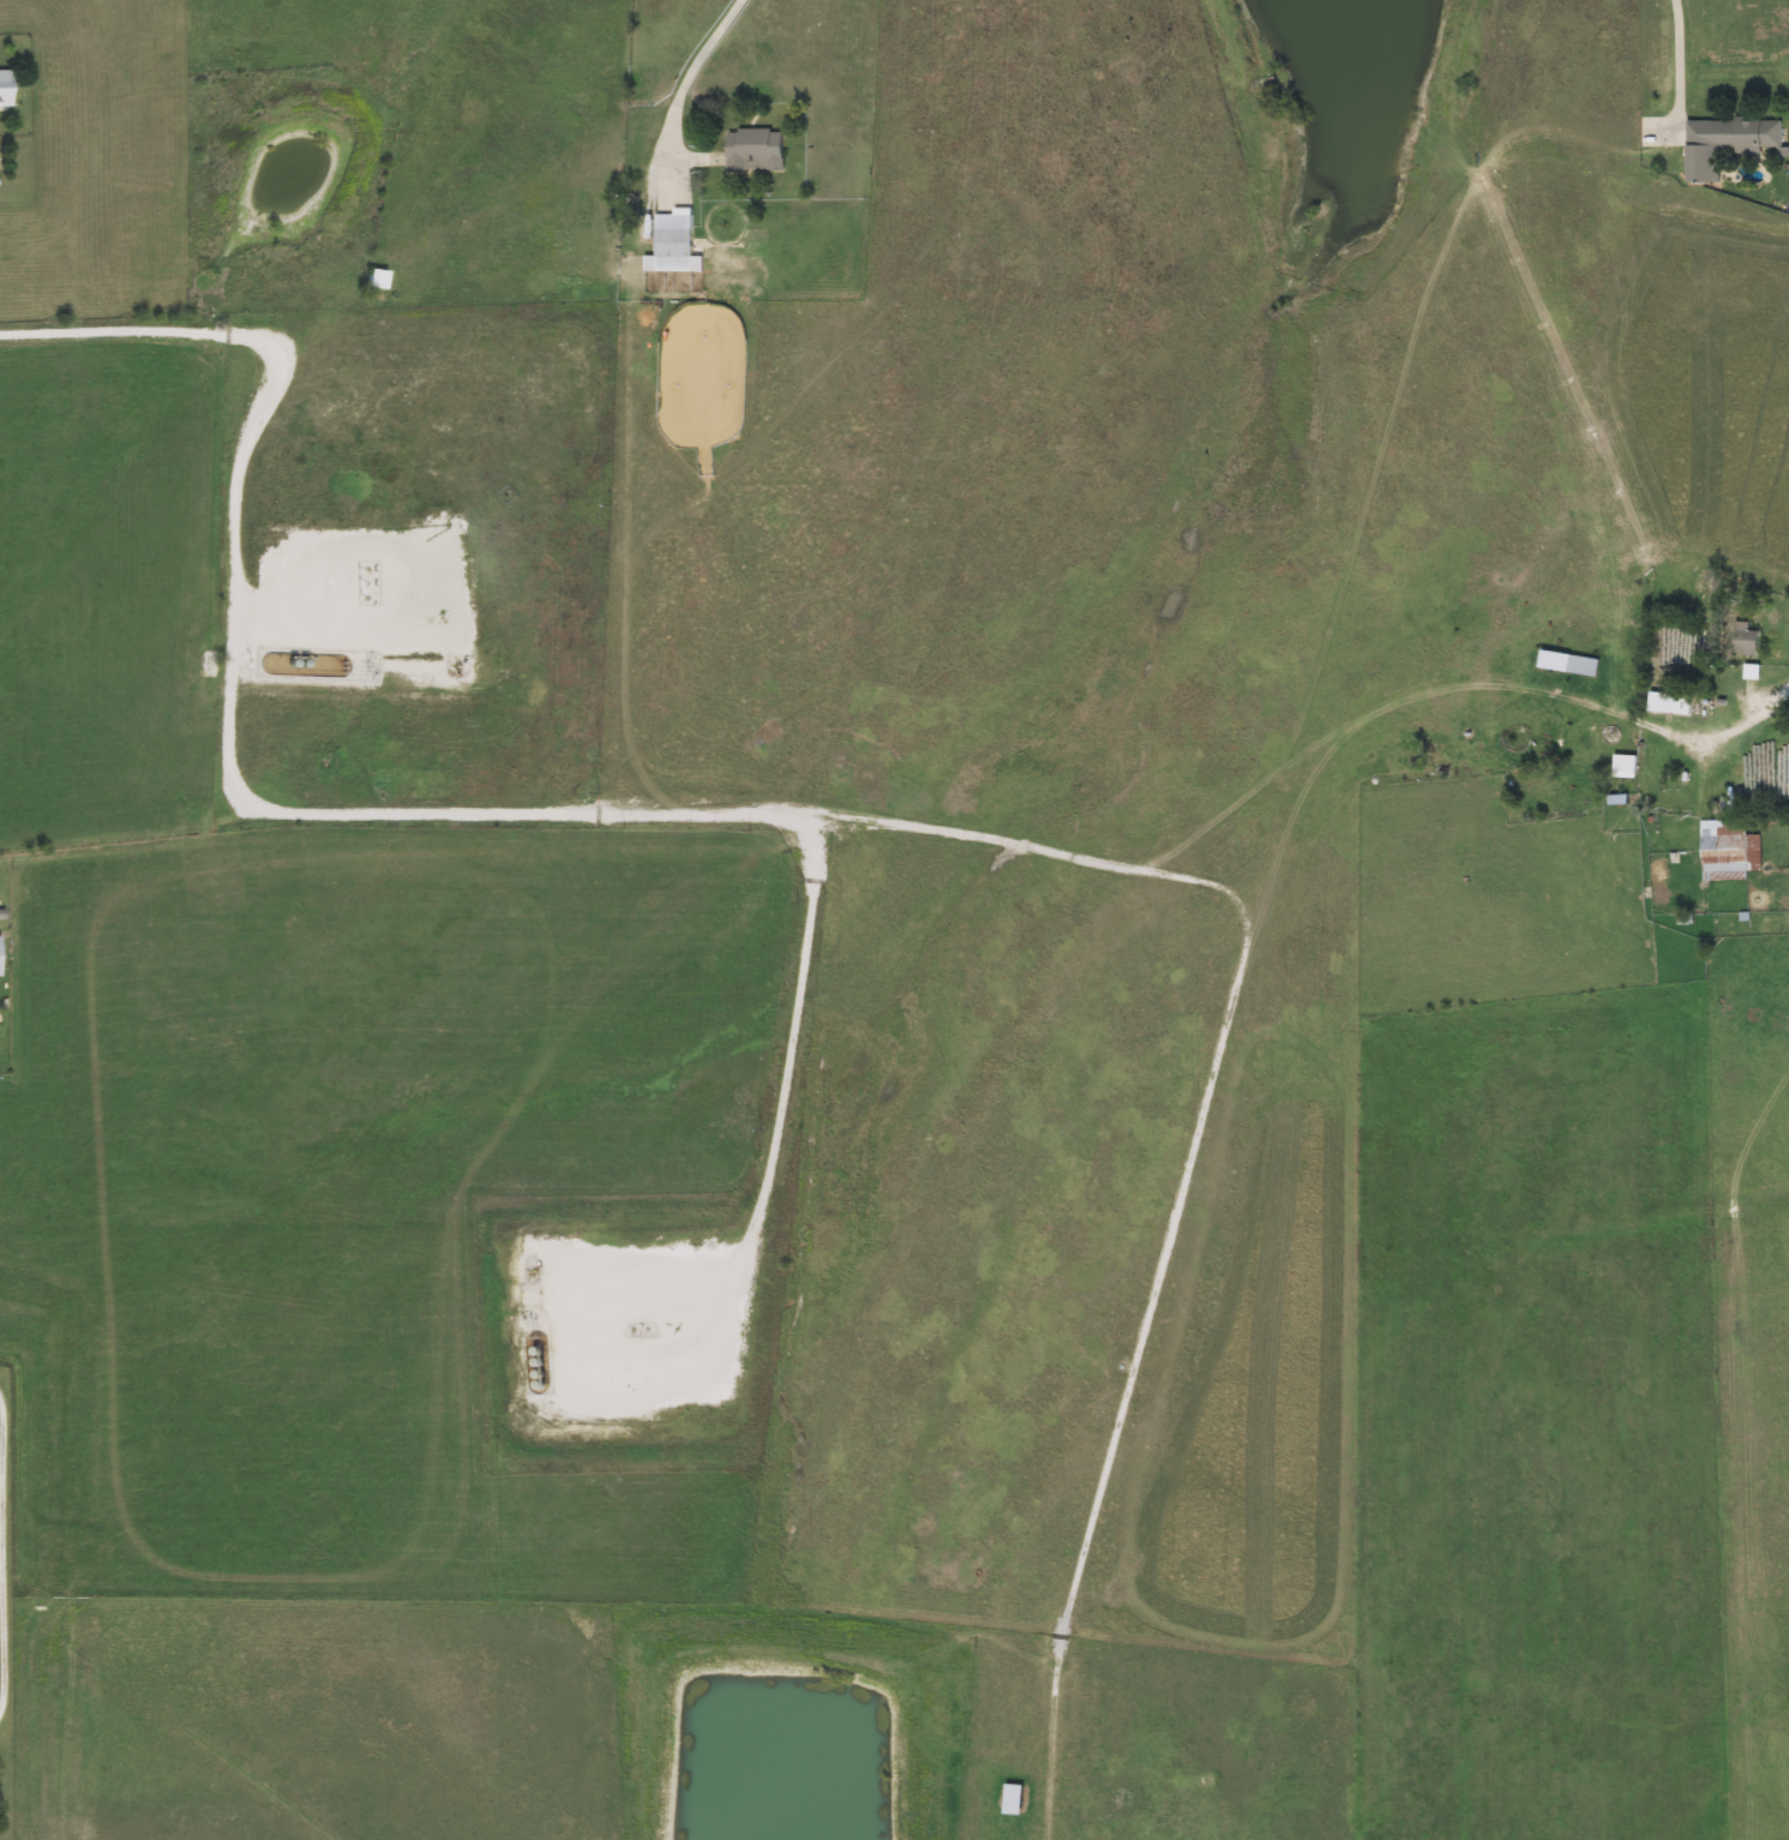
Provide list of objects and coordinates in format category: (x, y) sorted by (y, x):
road: (1677, 52)
road: (692, 68)
building: (7, 88)
building: (1719, 143)
building: (763, 149)
building: (679, 241)
building: (380, 280)
building: (1739, 641)
building: (1560, 665)
building: (1661, 705)
road: (1652, 727)
building: (1616, 768)
road: (396, 799)
building: (1722, 852)
building: (2, 955)
road: (1212, 1032)
road: (5, 1548)

